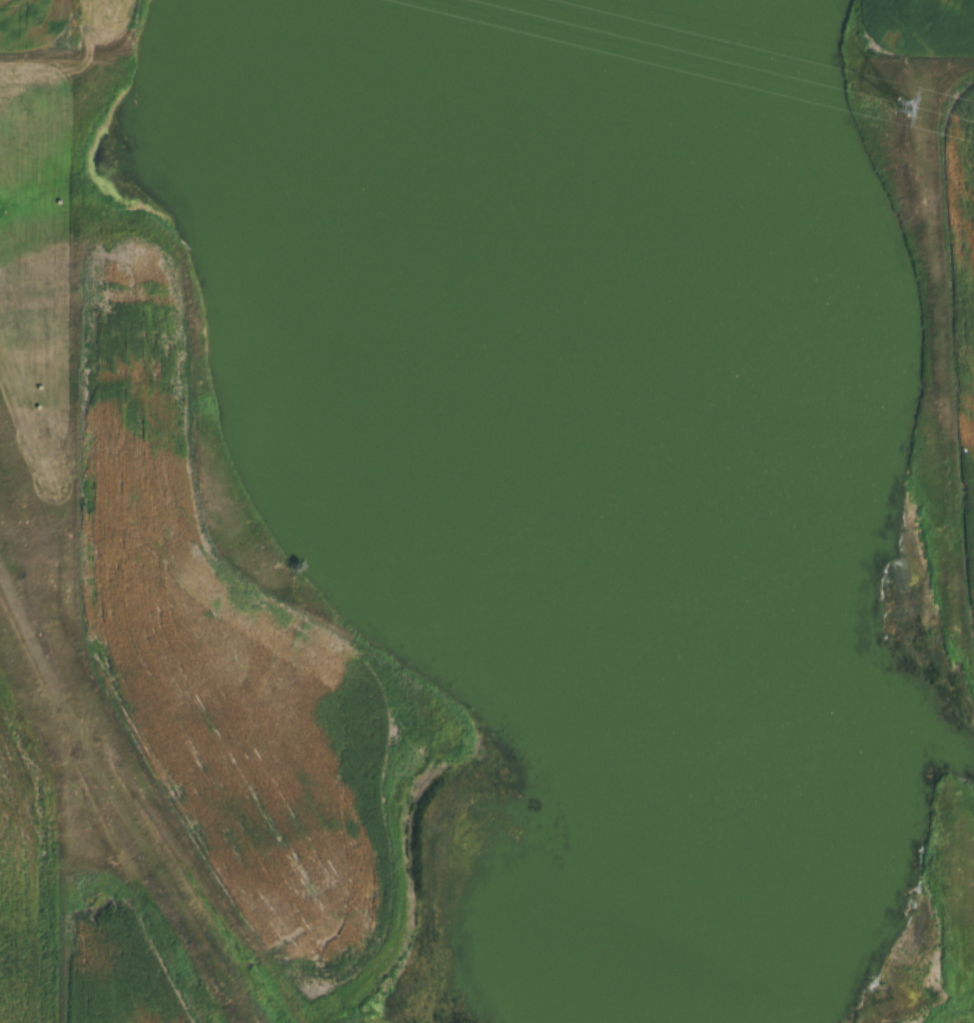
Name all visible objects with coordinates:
power tower: (921, 90)

